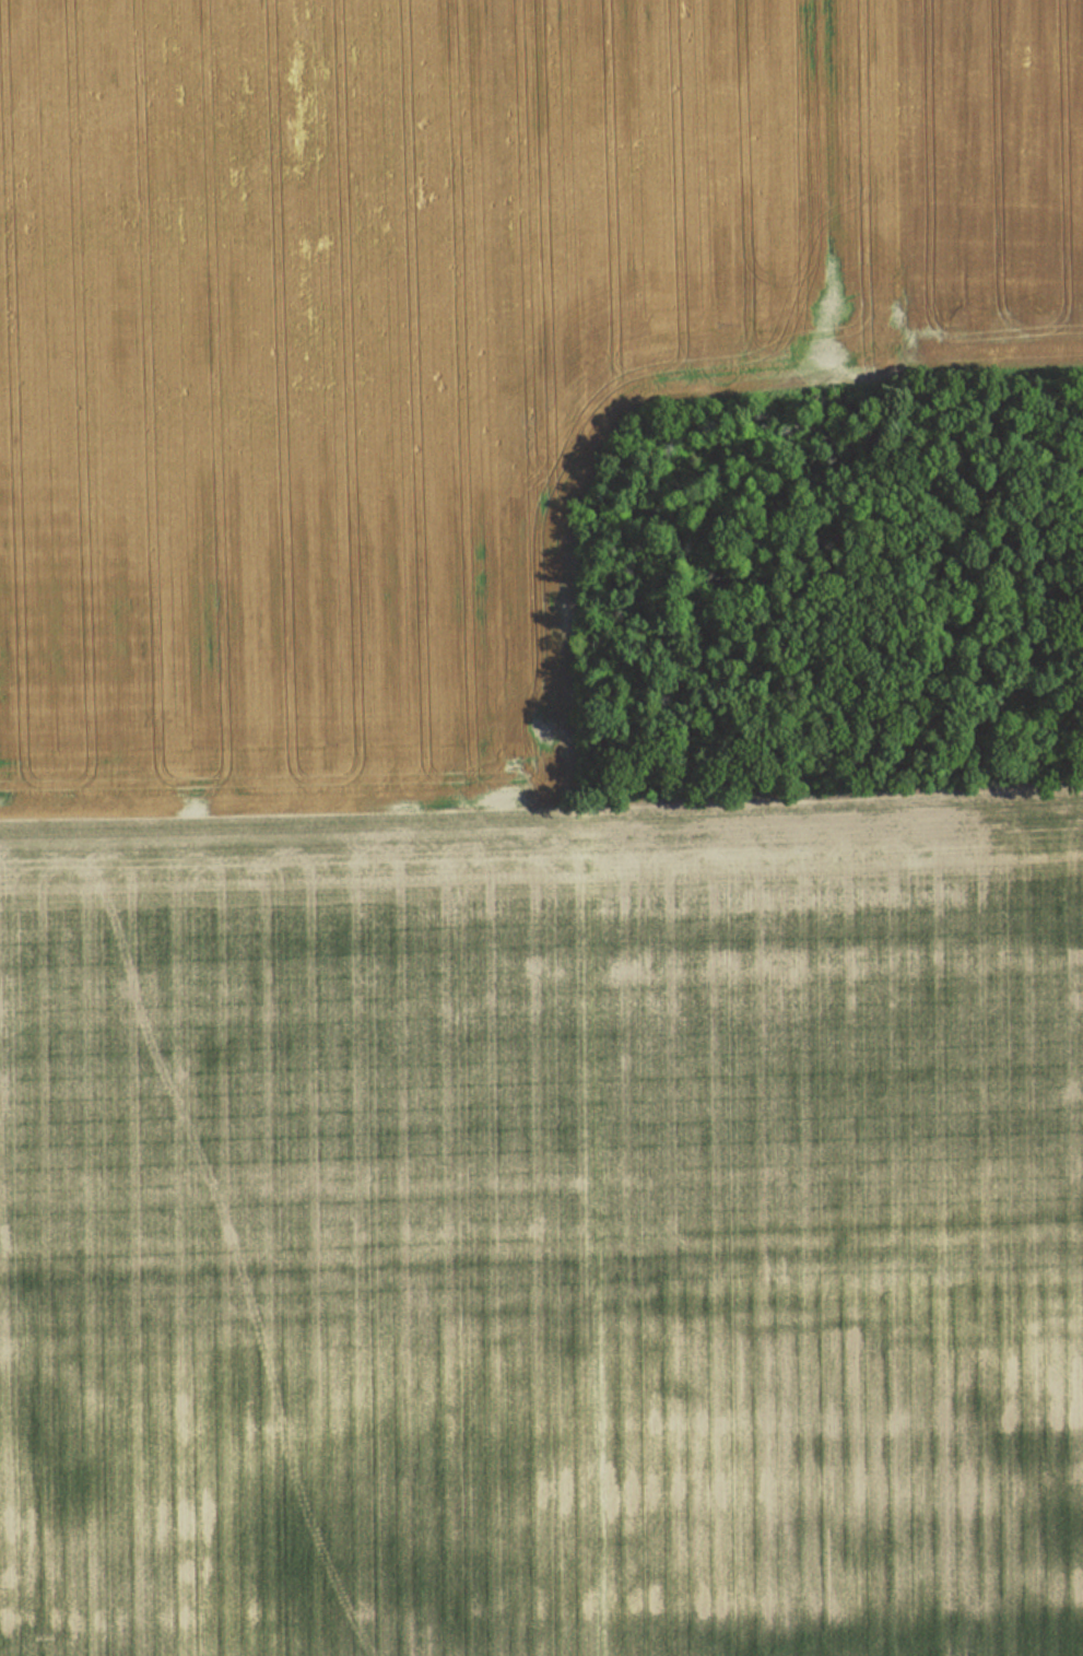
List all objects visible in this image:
crop: (974, 186)
crop: (370, 367)
crop: (545, 1234)

